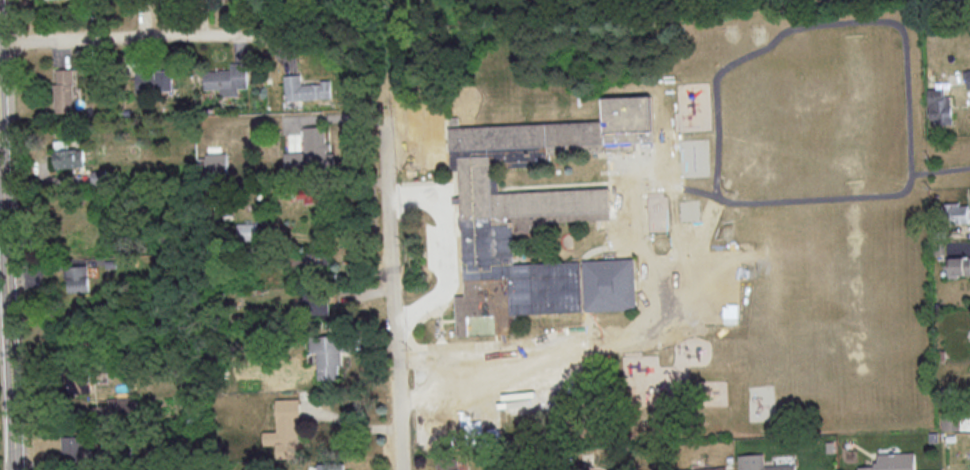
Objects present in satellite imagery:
road: (128, 37)
building: (967, 78)
building: (226, 79)
building: (154, 80)
building: (304, 89)
building: (63, 90)
building: (938, 107)
road: (672, 134)
building: (311, 151)
building: (68, 158)
building: (215, 162)
road: (940, 170)
road: (610, 182)
road: (650, 193)
building: (307, 194)
road: (742, 202)
building: (956, 212)
building: (538, 217)
road: (444, 250)
building: (317, 258)
road: (3, 262)
building: (960, 266)
building: (77, 278)
road: (7, 289)
road: (392, 292)
building: (314, 304)
road: (604, 334)
road: (5, 348)
road: (584, 349)
building: (328, 354)
building: (80, 382)
road: (409, 399)
building: (122, 405)
building: (950, 421)
building: (285, 428)
road: (435, 438)
building: (72, 447)
building: (892, 462)
building: (449, 463)
building: (760, 463)
building: (334, 466)
building: (706, 468)

